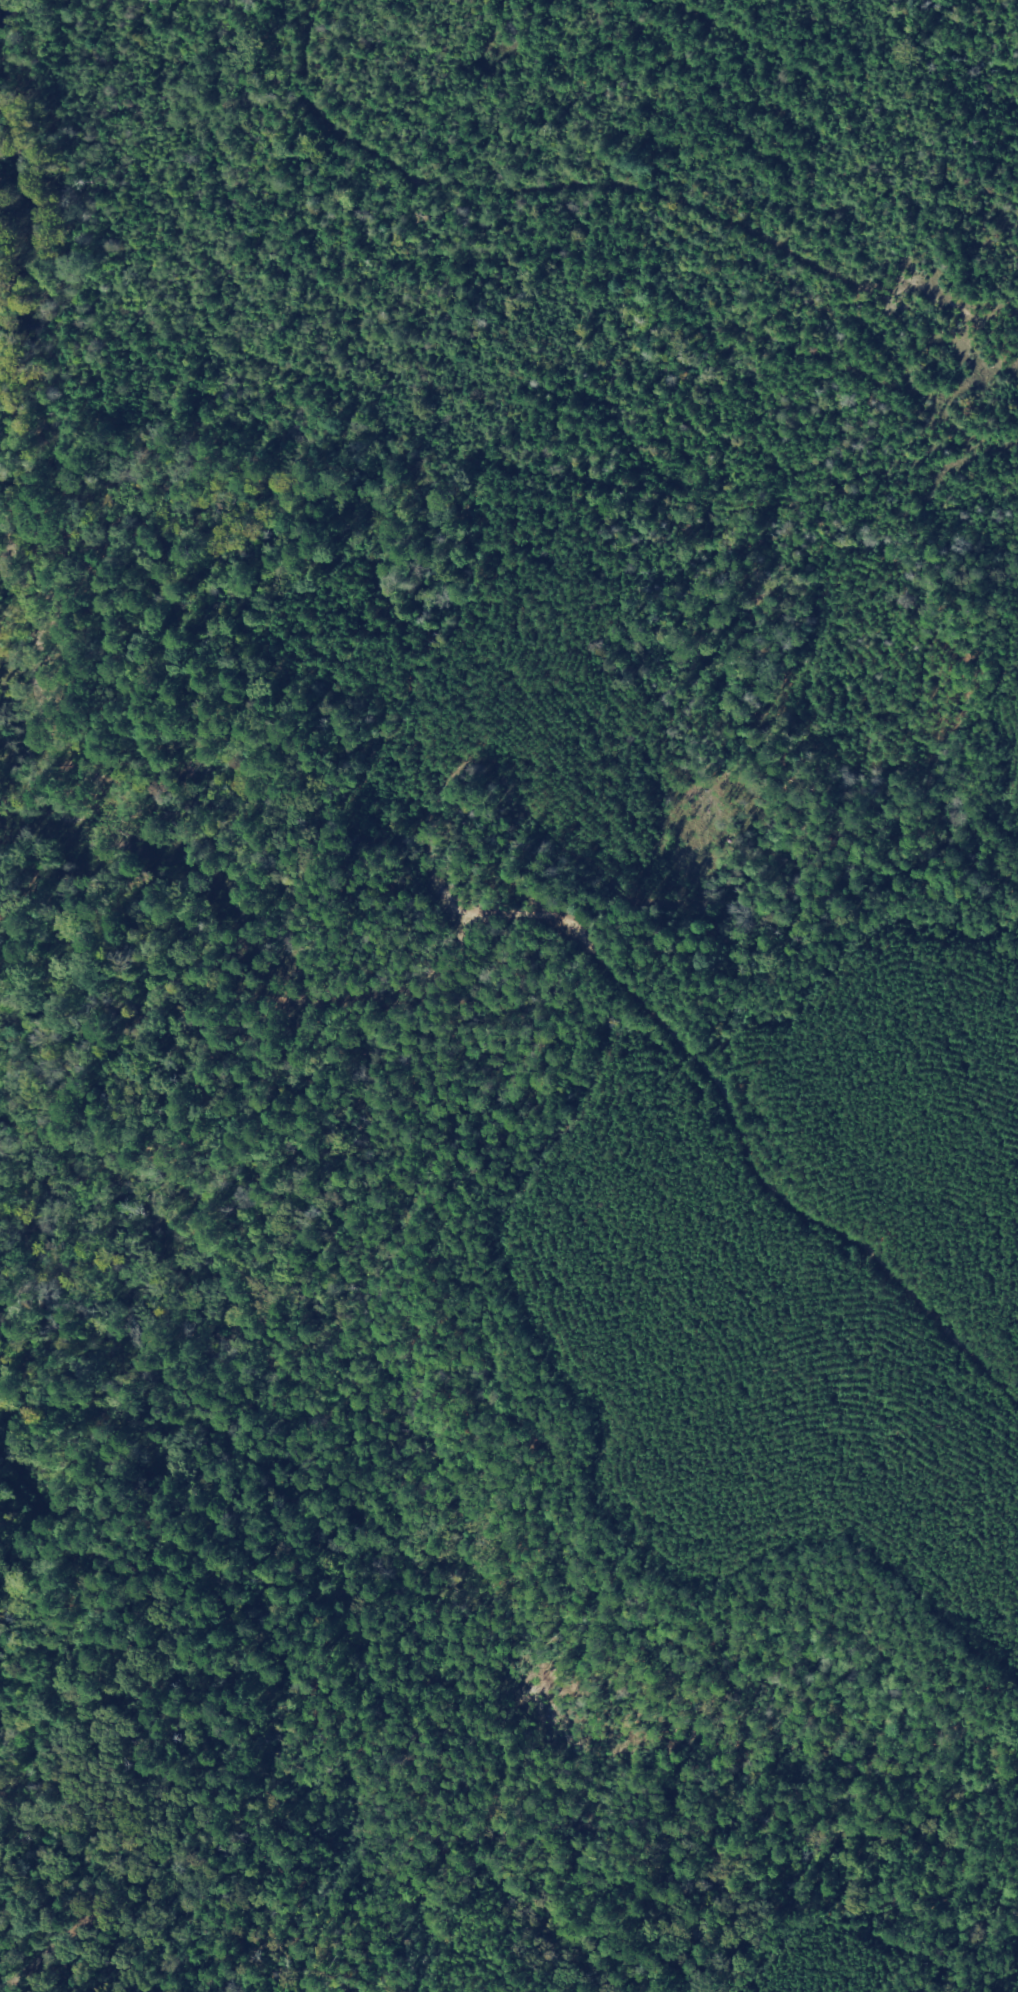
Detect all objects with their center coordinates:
road: (725, 174)
road: (866, 664)

